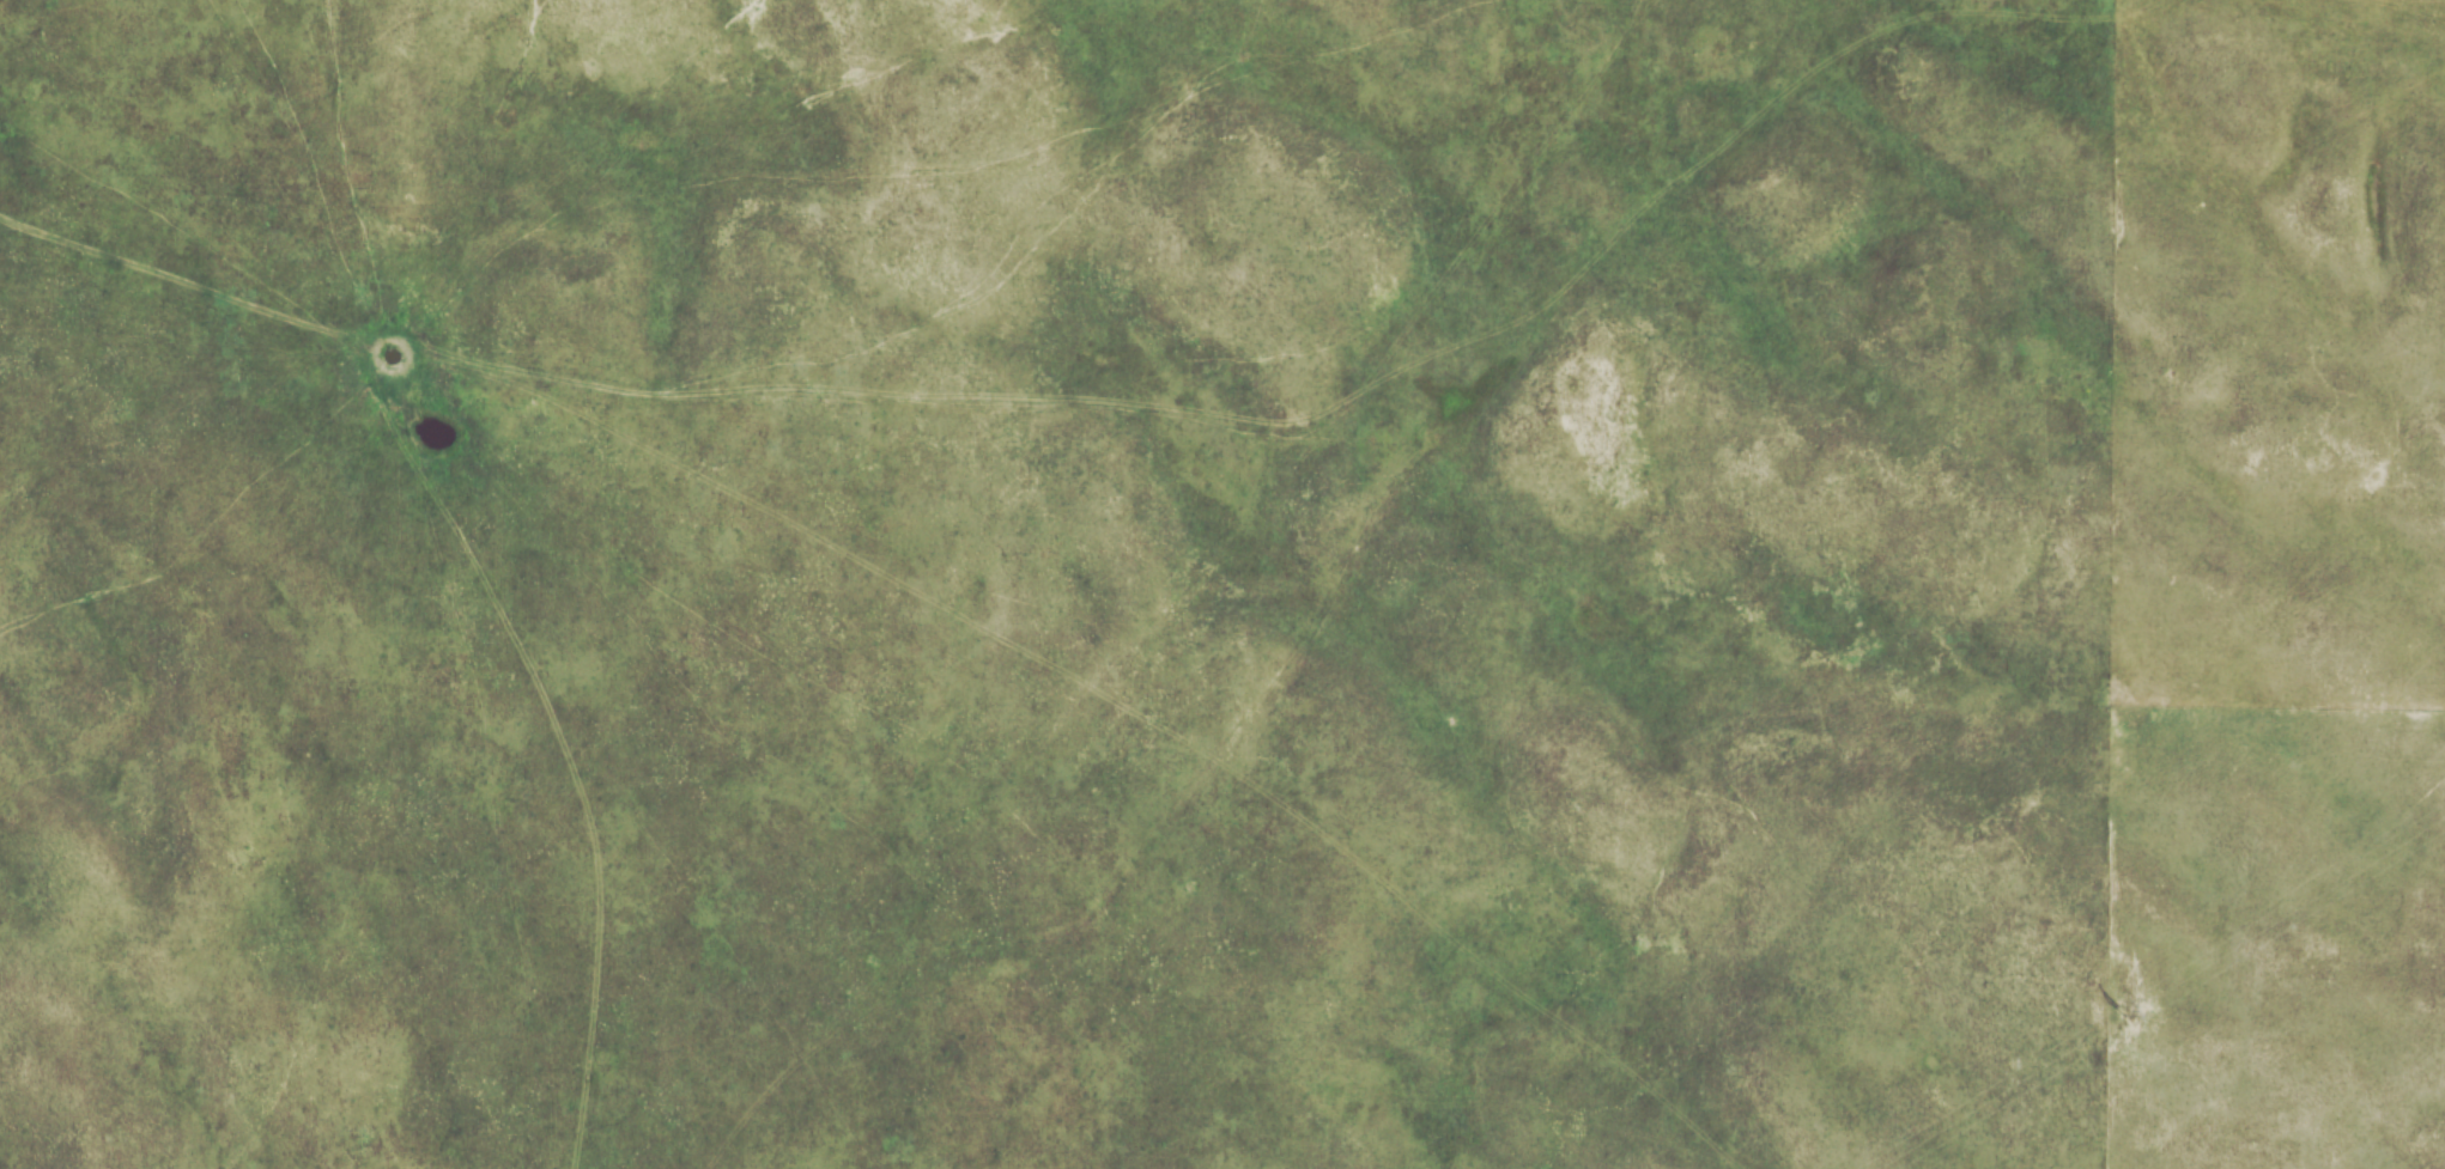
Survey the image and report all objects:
power tower: (2121, 1011)

